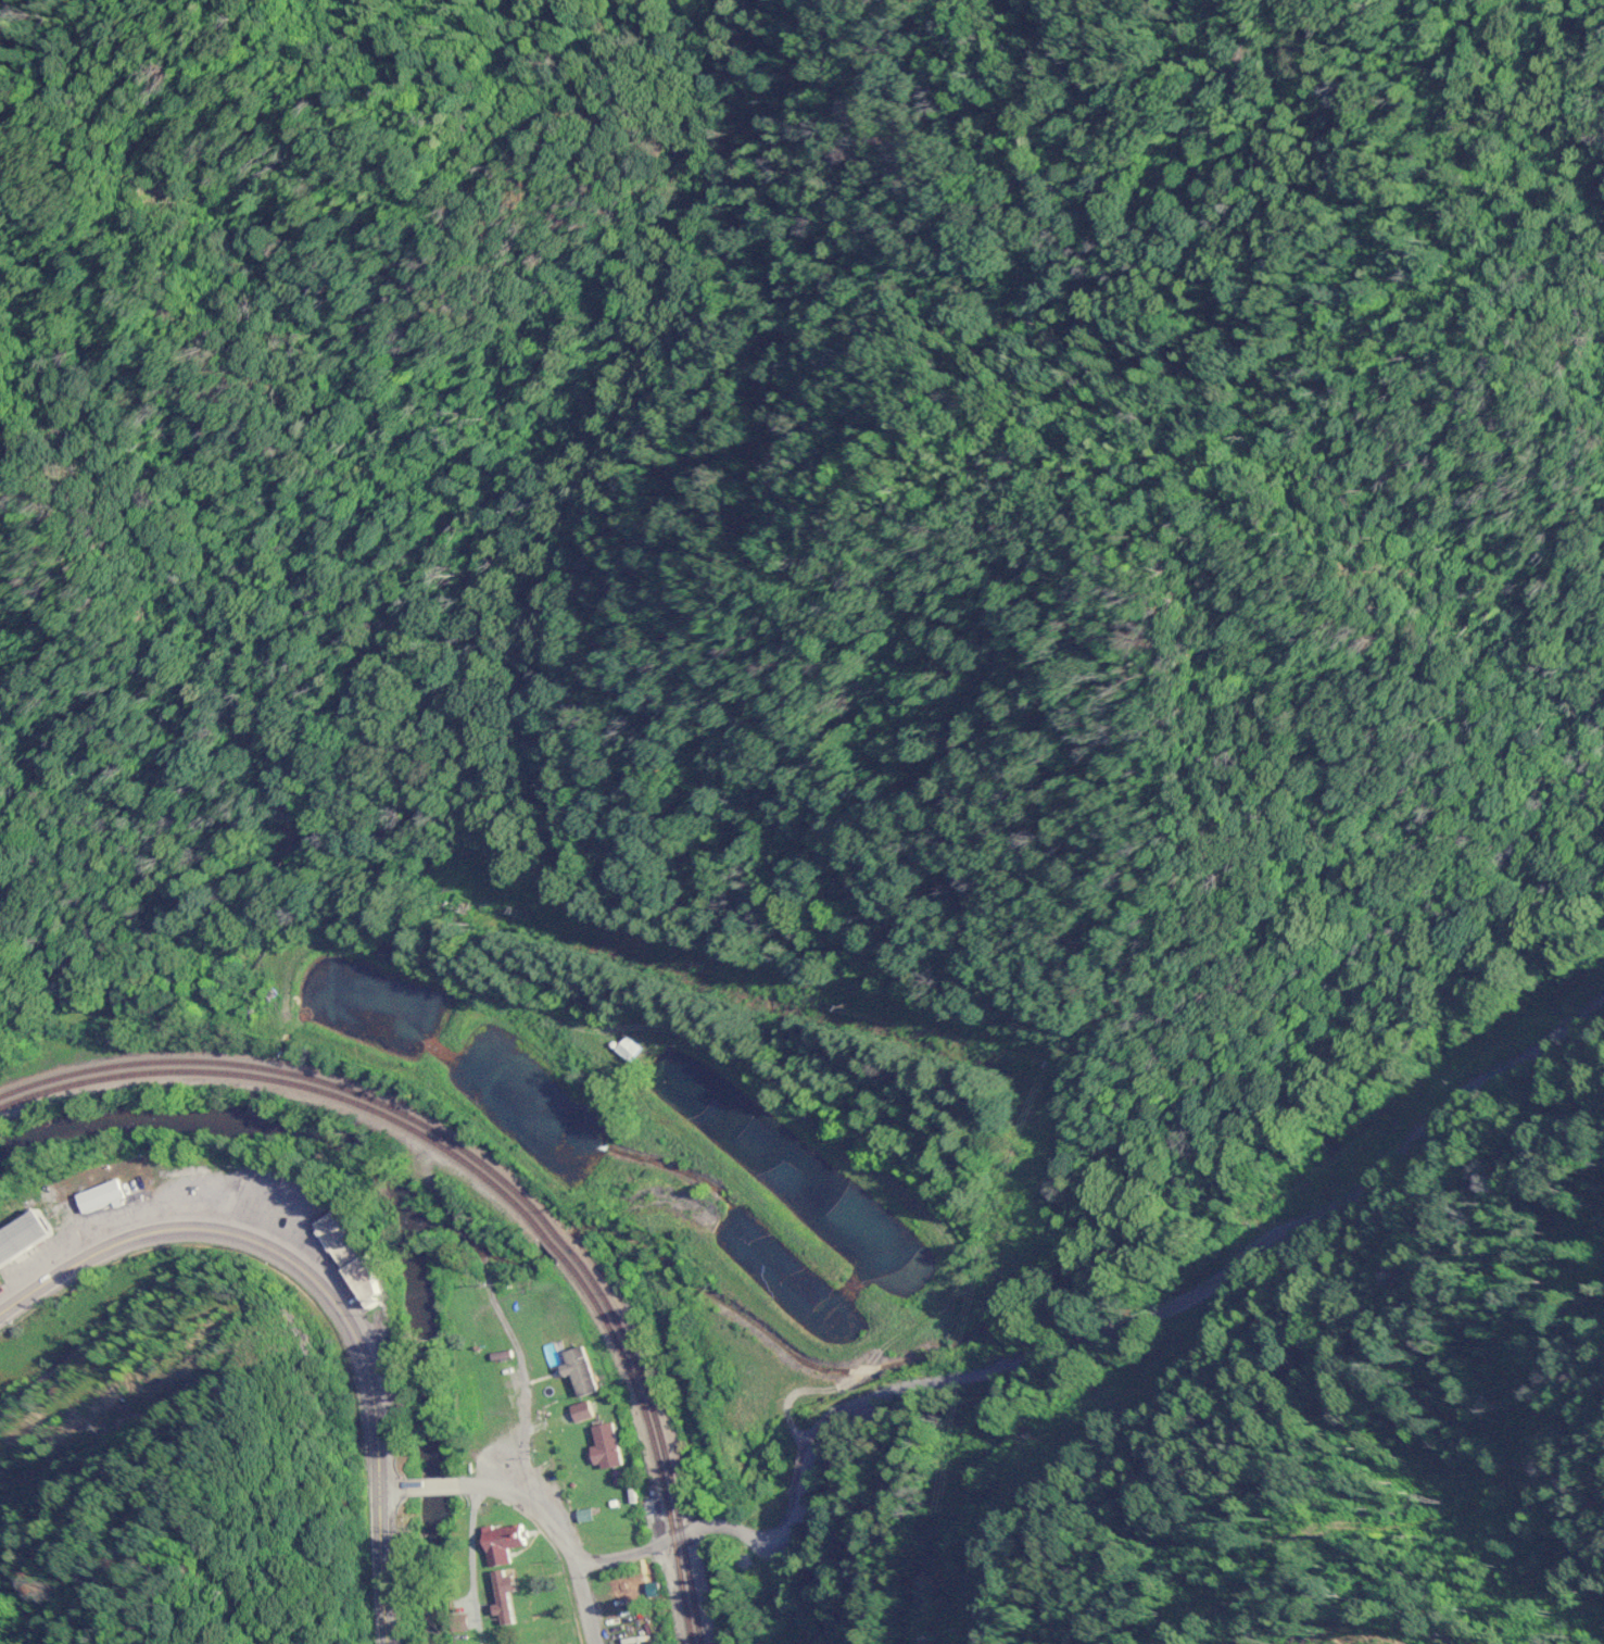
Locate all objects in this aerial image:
building: (627, 1050)
railway: (496, 1174)
railway: (488, 1182)
building: (98, 1196)
river: (412, 1204)
building: (22, 1235)
river: (477, 1244)
river: (558, 1244)
building: (349, 1260)
river: (1097, 1262)
road: (326, 1290)
road: (1117, 1352)
building: (604, 1445)
road: (530, 1507)
building: (503, 1543)
building: (506, 1597)
building: (463, 1622)

